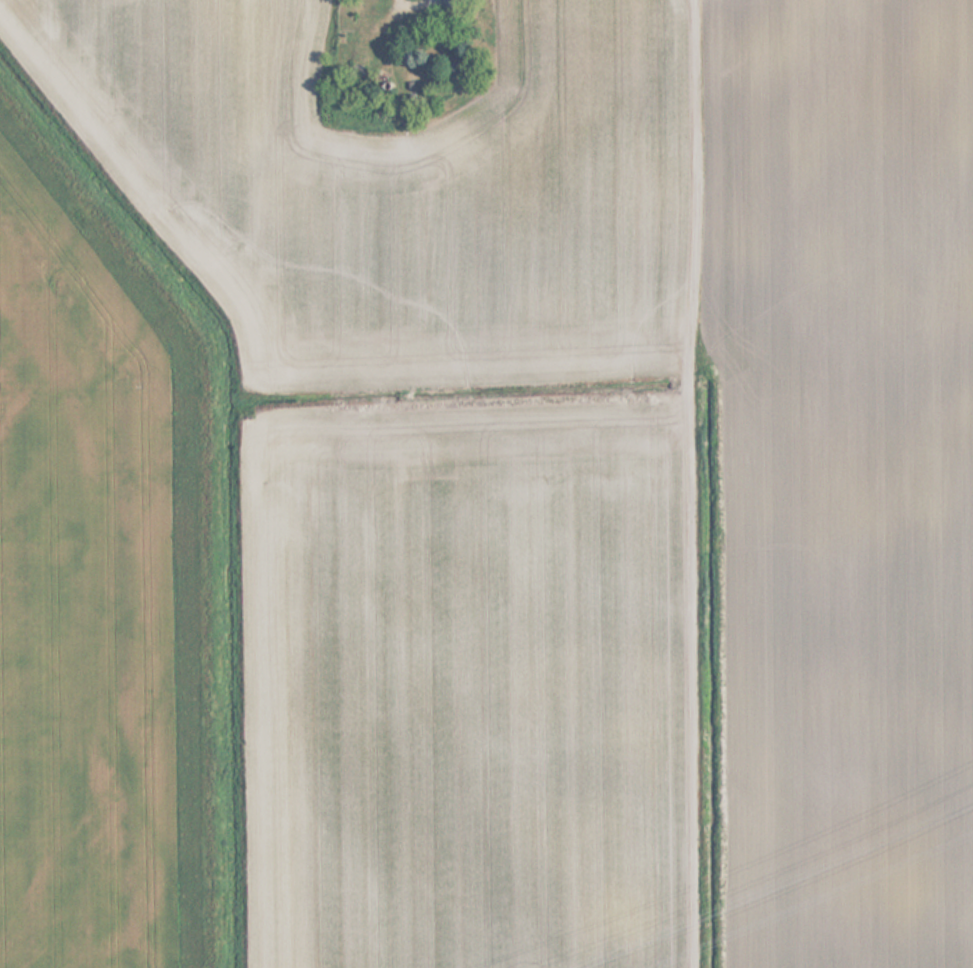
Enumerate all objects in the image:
road: (711, 484)

